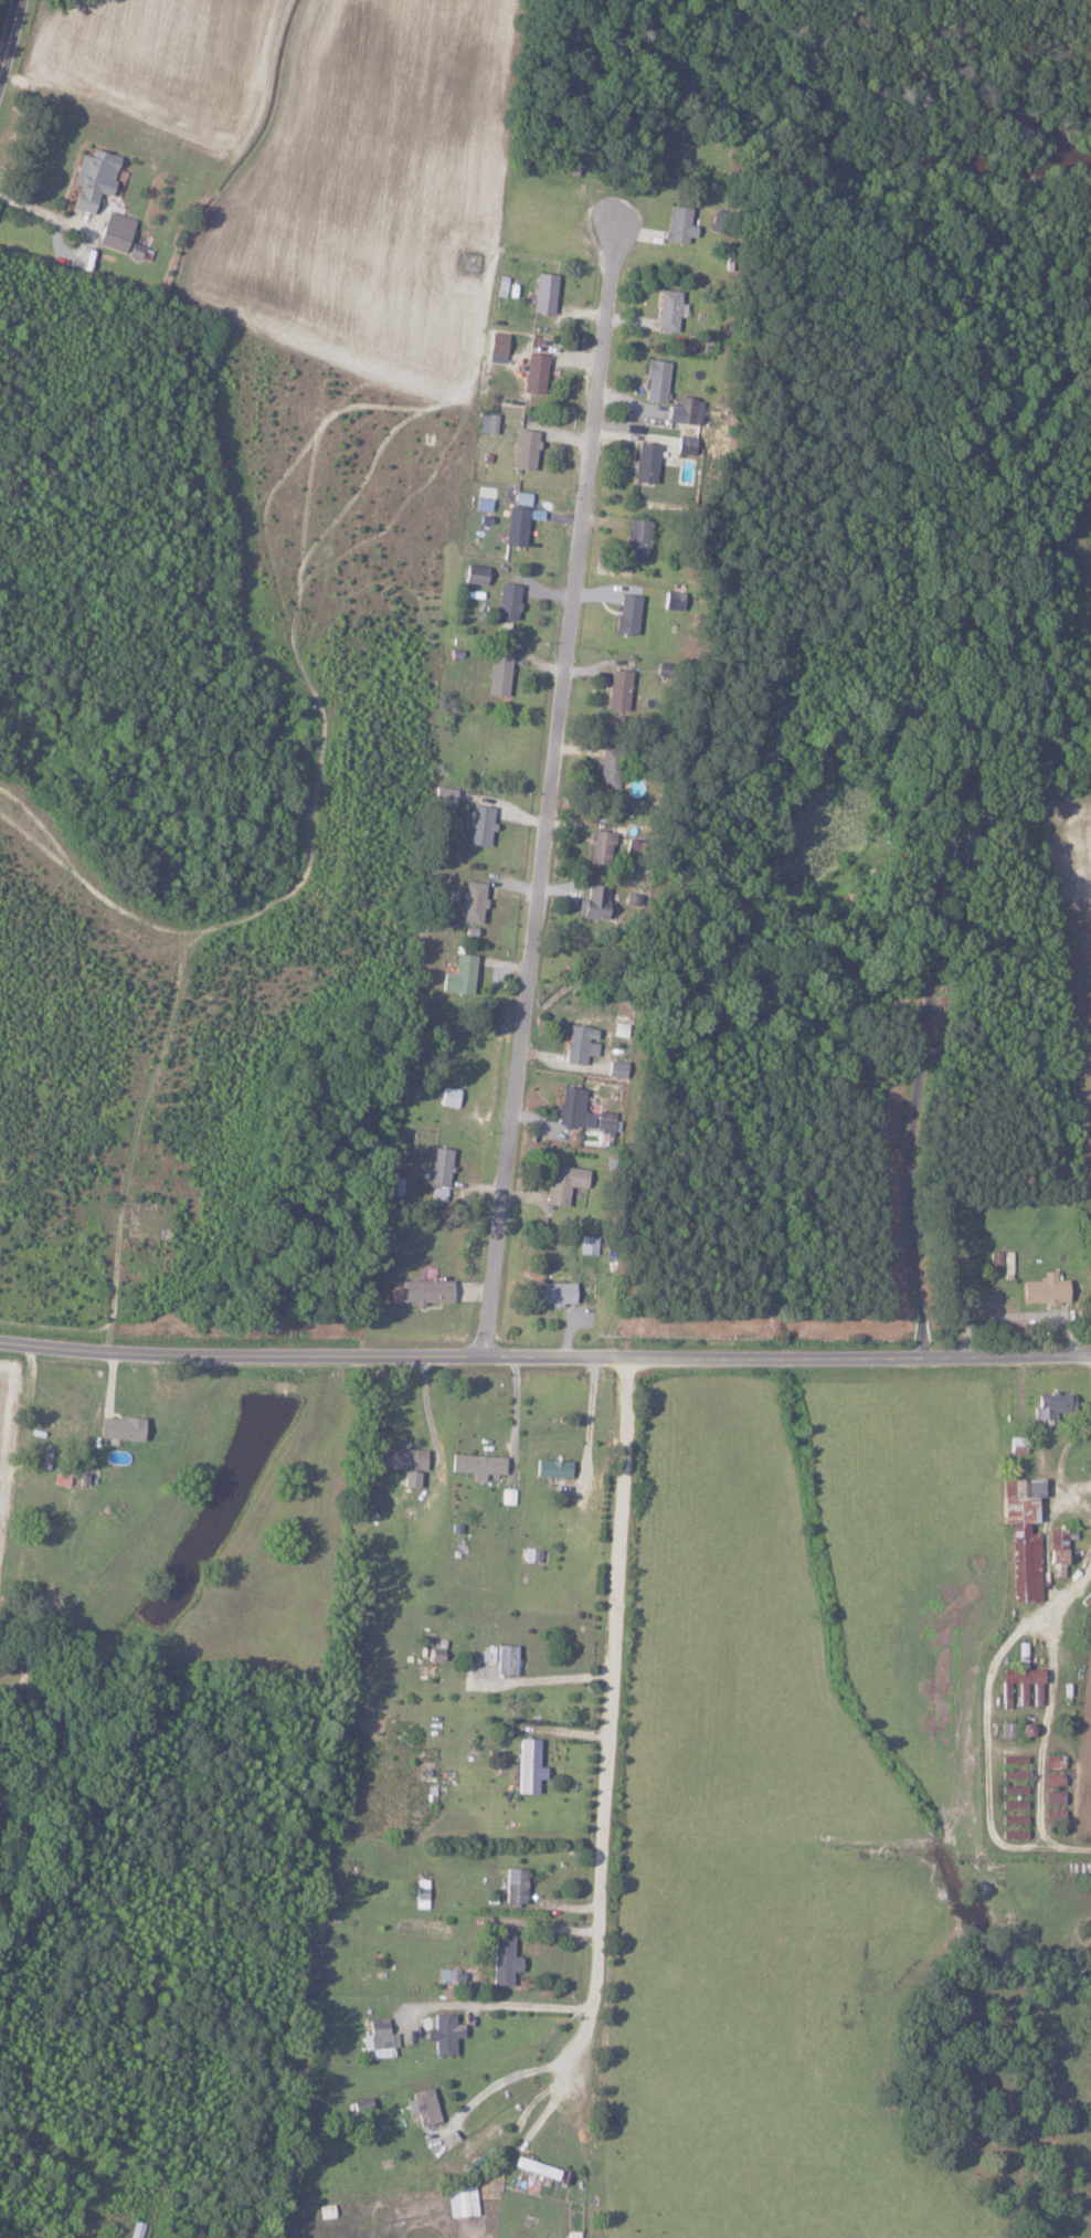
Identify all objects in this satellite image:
road: (11, 43)
building: (91, 177)
road: (45, 213)
building: (678, 223)
building: (114, 231)
building: (542, 293)
building: (667, 309)
building: (533, 372)
building: (654, 379)
building: (685, 411)
building: (486, 422)
building: (685, 444)
building: (523, 448)
building: (645, 463)
building: (515, 526)
building: (635, 538)
building: (474, 574)
building: (671, 600)
building: (507, 601)
building: (626, 613)
building: (497, 675)
building: (617, 689)
building: (607, 768)
road: (555, 791)
building: (478, 825)
building: (964, 834)
building: (599, 846)
building: (472, 901)
building: (592, 901)
building: (458, 975)
building: (579, 1044)
building: (615, 1068)
building: (448, 1097)
building: (572, 1109)
building: (604, 1123)
road: (917, 1147)
building: (438, 1173)
building: (562, 1183)
park: (148, 1218)
building: (587, 1245)
building: (1042, 1290)
building: (419, 1291)
building: (553, 1294)
road: (544, 1354)
road: (425, 1405)
building: (1049, 1406)
road: (515, 1410)
building: (119, 1426)
building: (399, 1457)
building: (476, 1464)
building: (551, 1467)
building: (1021, 1534)
building: (1056, 1551)
building: (505, 1658)
building: (1019, 1687)
road: (1000, 1700)
road: (611, 1710)
building: (1052, 1760)
building: (528, 1765)
building: (1014, 1774)
building: (1053, 1778)
building: (1014, 1788)
building: (1052, 1797)
building: (1014, 1804)
building: (1053, 1814)
building: (1014, 1818)
road: (1045, 1845)
building: (515, 1885)
building: (504, 1957)
road: (521, 2007)
building: (443, 2033)
building: (378, 2034)
road: (500, 2078)
building: (422, 2107)
road: (547, 2109)
building: (536, 2167)
building: (460, 2200)
building: (572, 2235)

